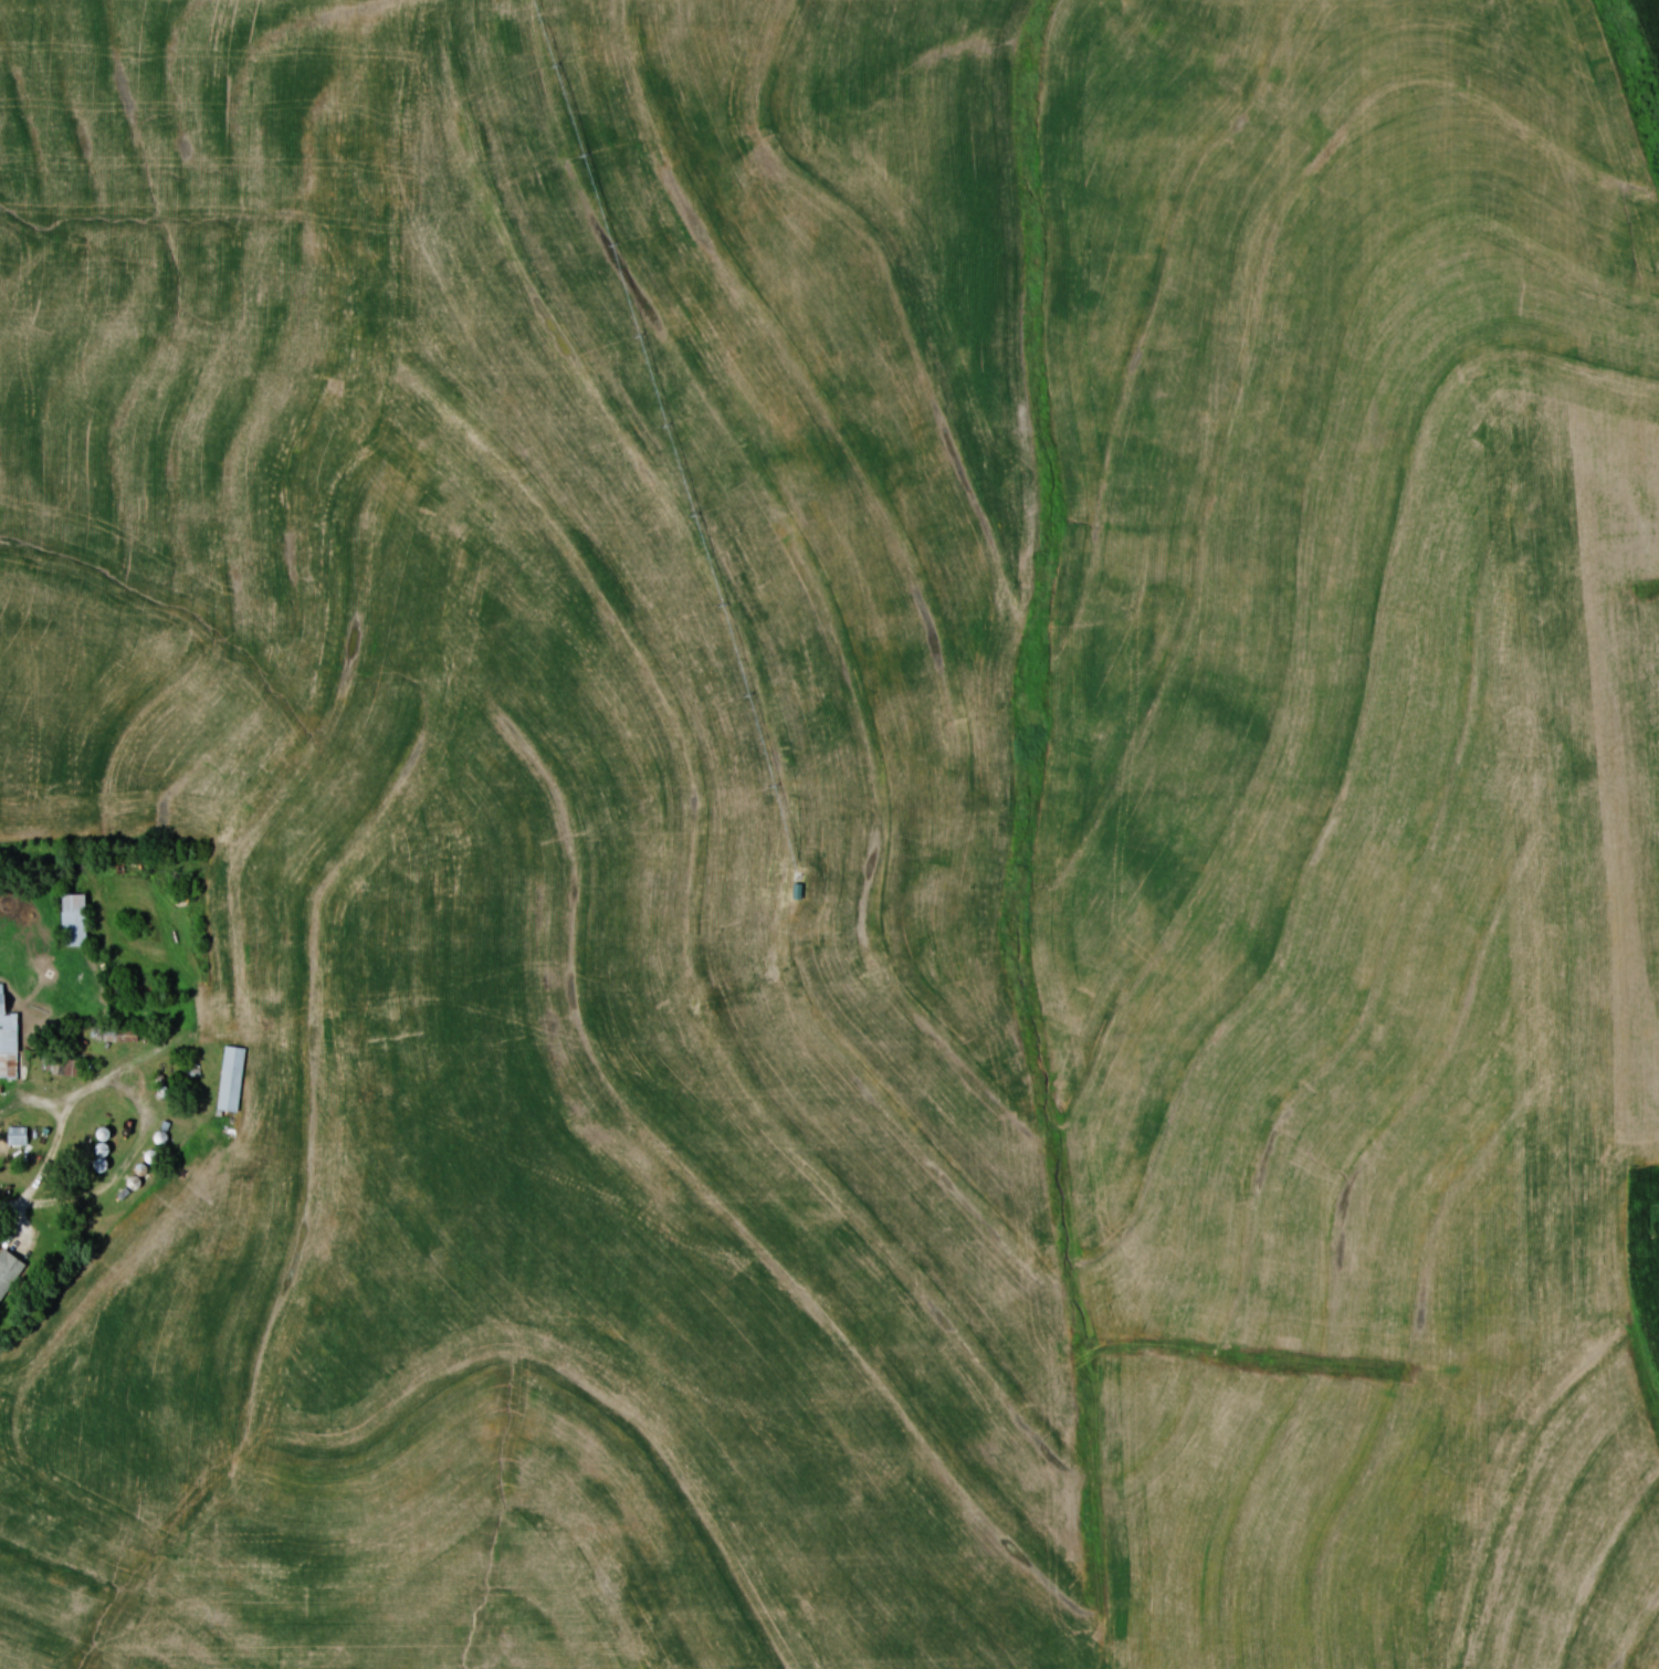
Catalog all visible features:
building: (76, 920)
building: (9, 1039)
building: (73, 1067)
building: (232, 1078)
road: (153, 1109)
building: (103, 1156)
road: (10, 1204)
building: (9, 1271)

